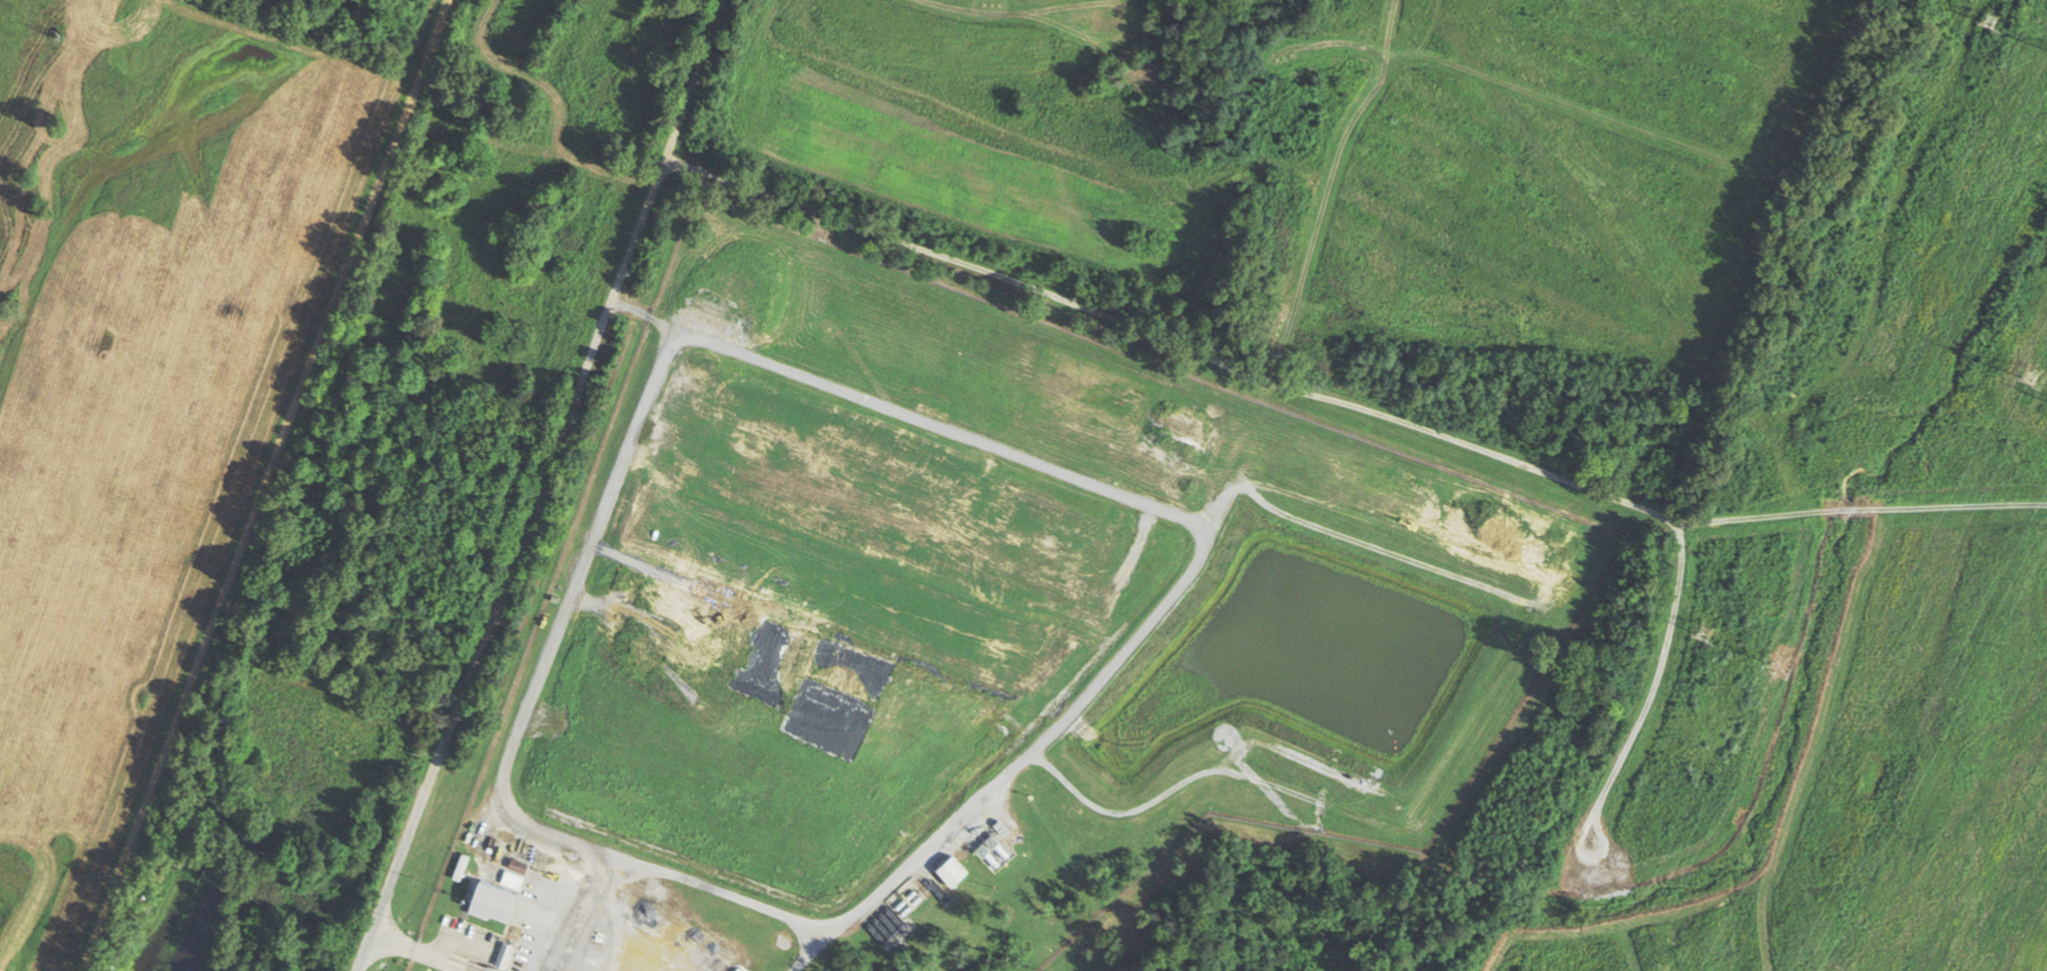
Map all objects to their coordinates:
power tower: (1987, 18)
power tower: (2030, 373)
road: (266, 485)
road: (526, 485)
power tower: (1702, 628)
power tower: (1774, 658)
building: (950, 870)
building: (489, 900)
building: (503, 955)
building: (738, 969)

